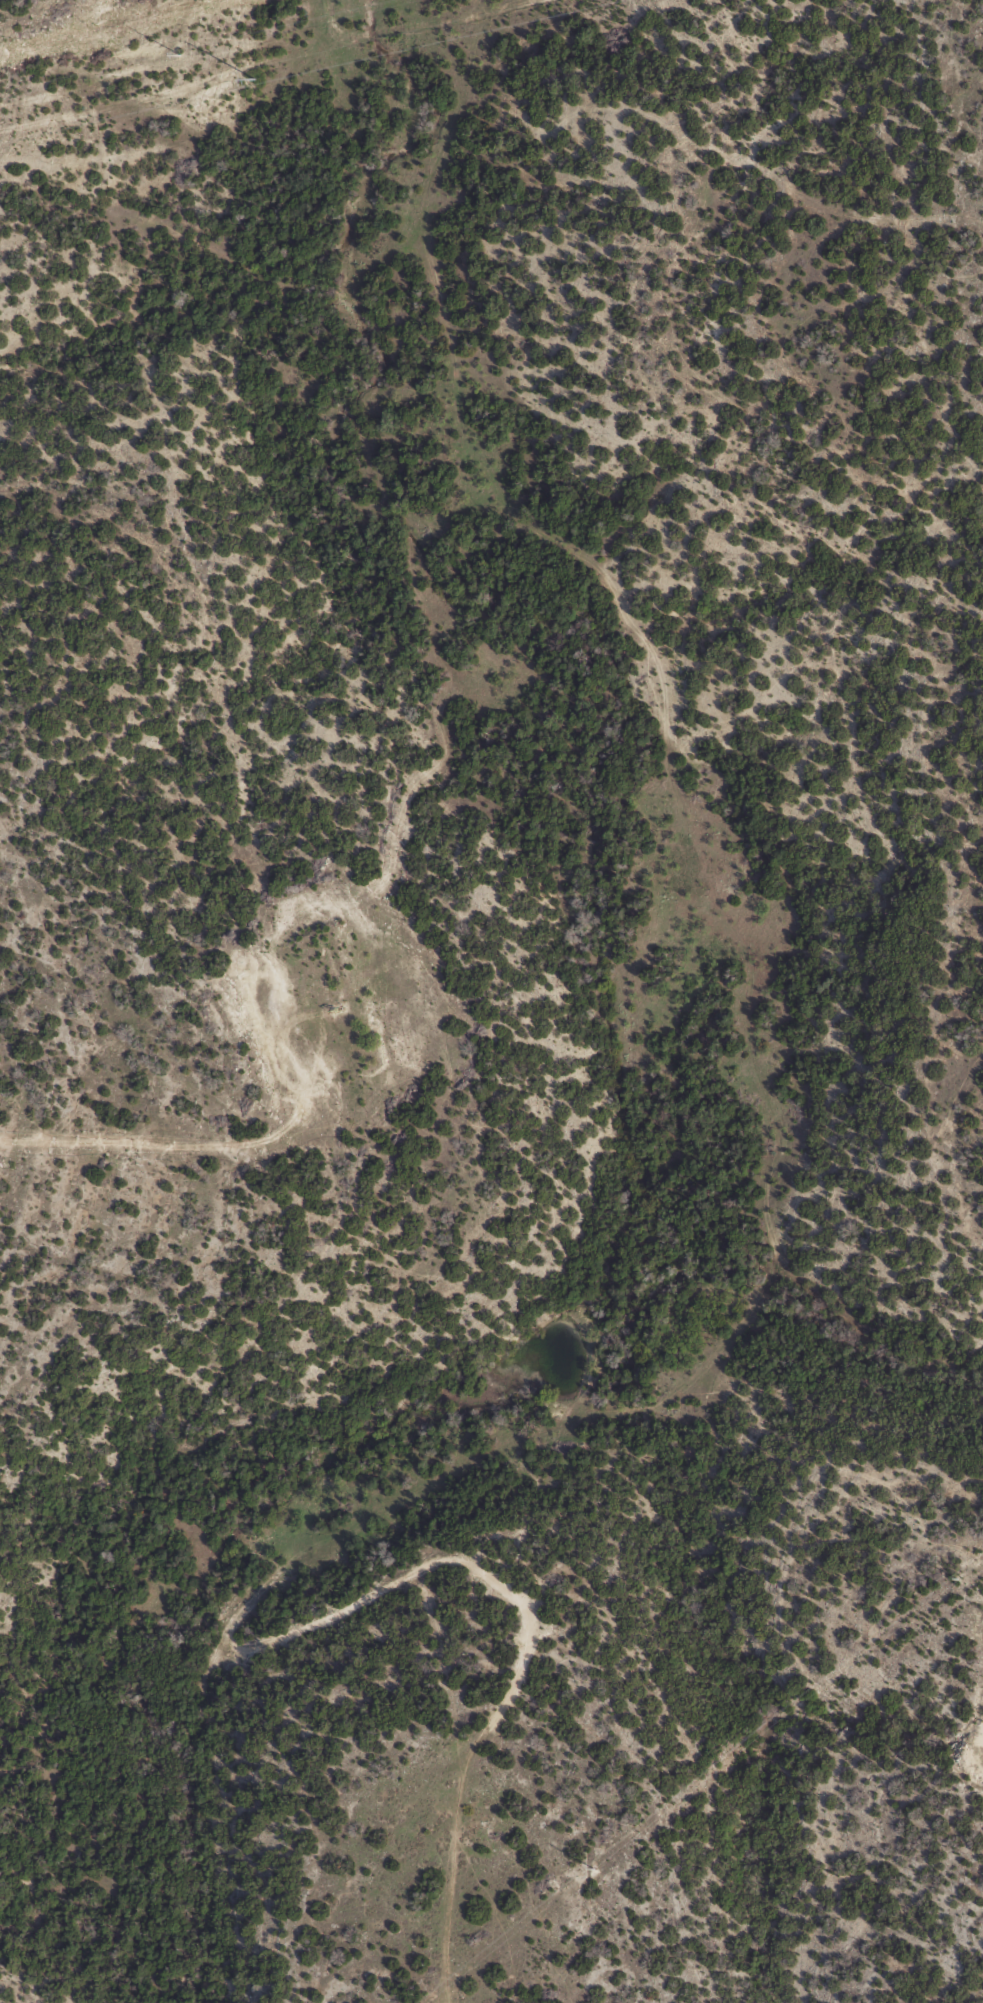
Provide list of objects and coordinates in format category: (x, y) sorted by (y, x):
road: (325, 29)
power tower: (177, 54)
power tower: (251, 80)
power tower: (954, 1577)
road: (491, 1707)
power tower: (593, 1866)

